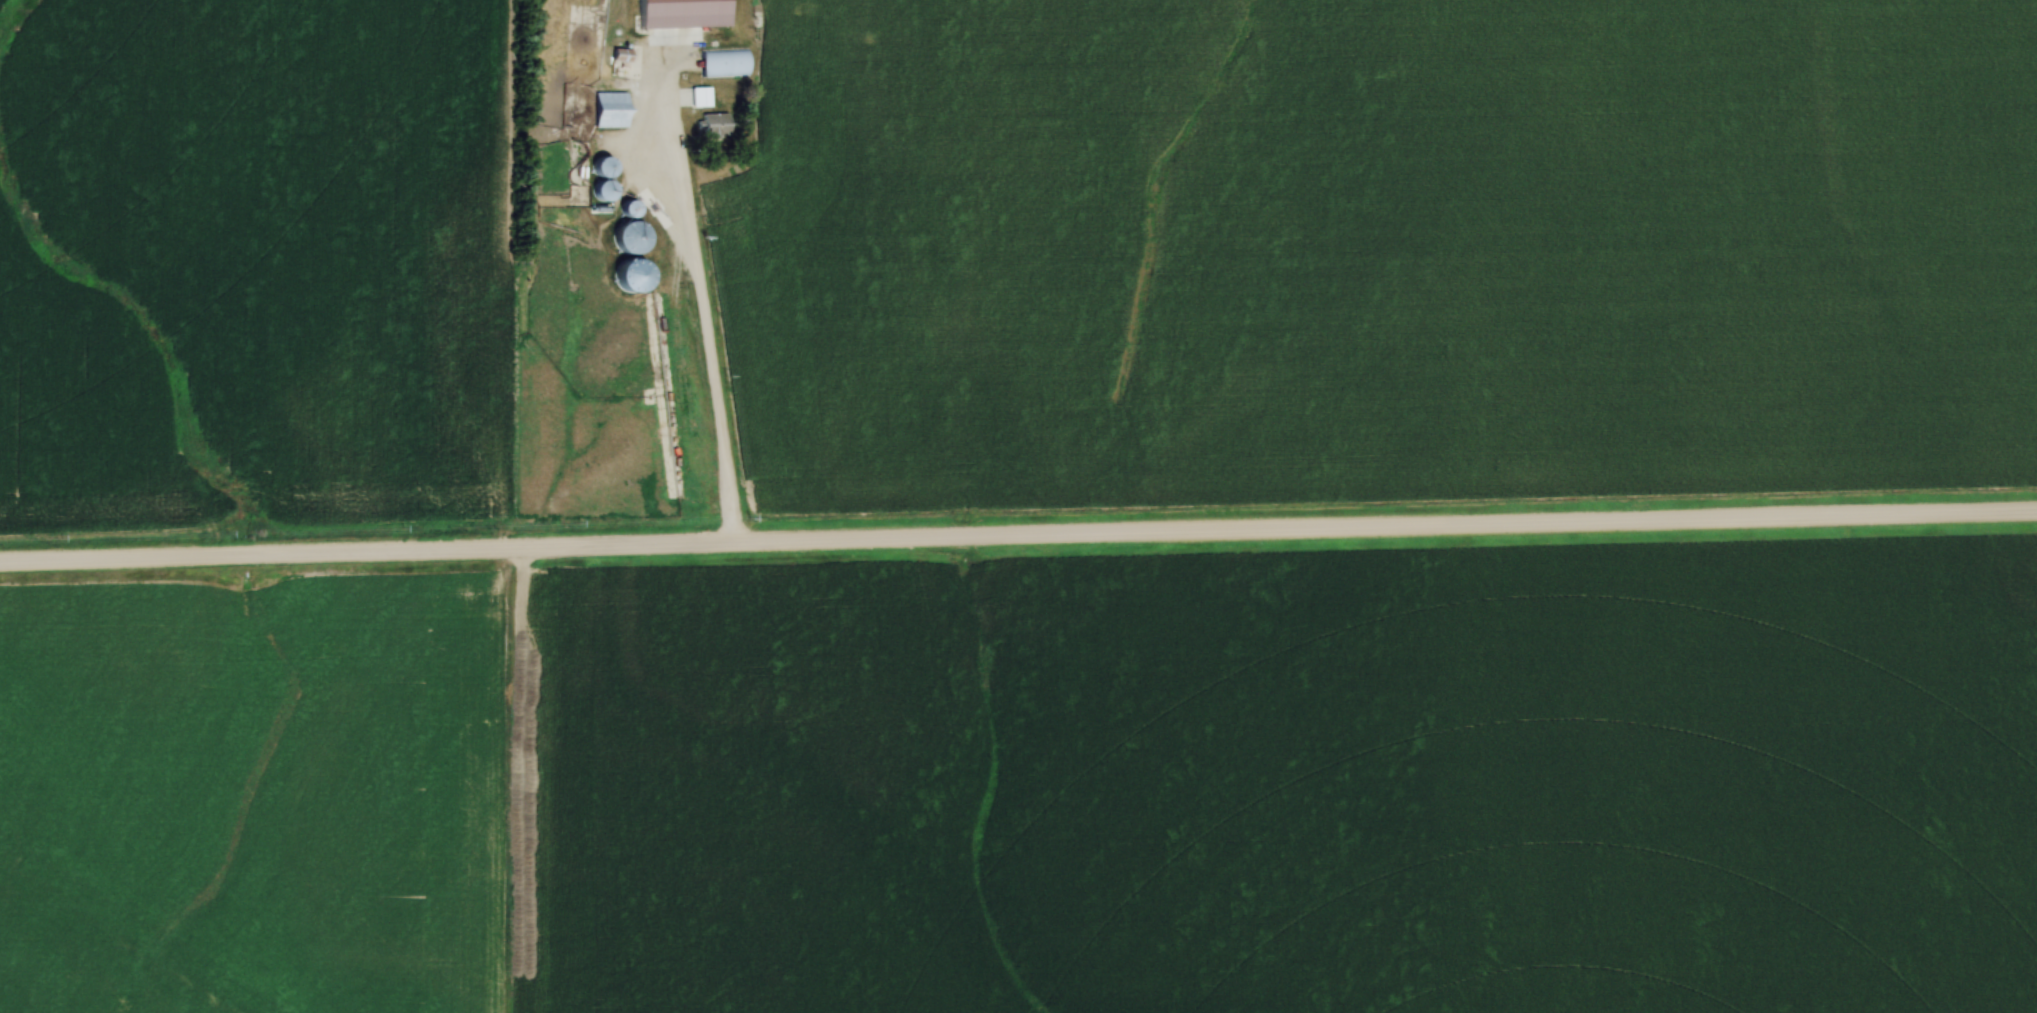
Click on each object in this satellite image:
building: (685, 12)
building: (726, 62)
building: (700, 96)
building: (612, 108)
building: (715, 123)
building: (606, 165)
building: (605, 188)
building: (631, 206)
building: (631, 234)
crop: (1386, 253)
road: (706, 321)
road: (1018, 540)

